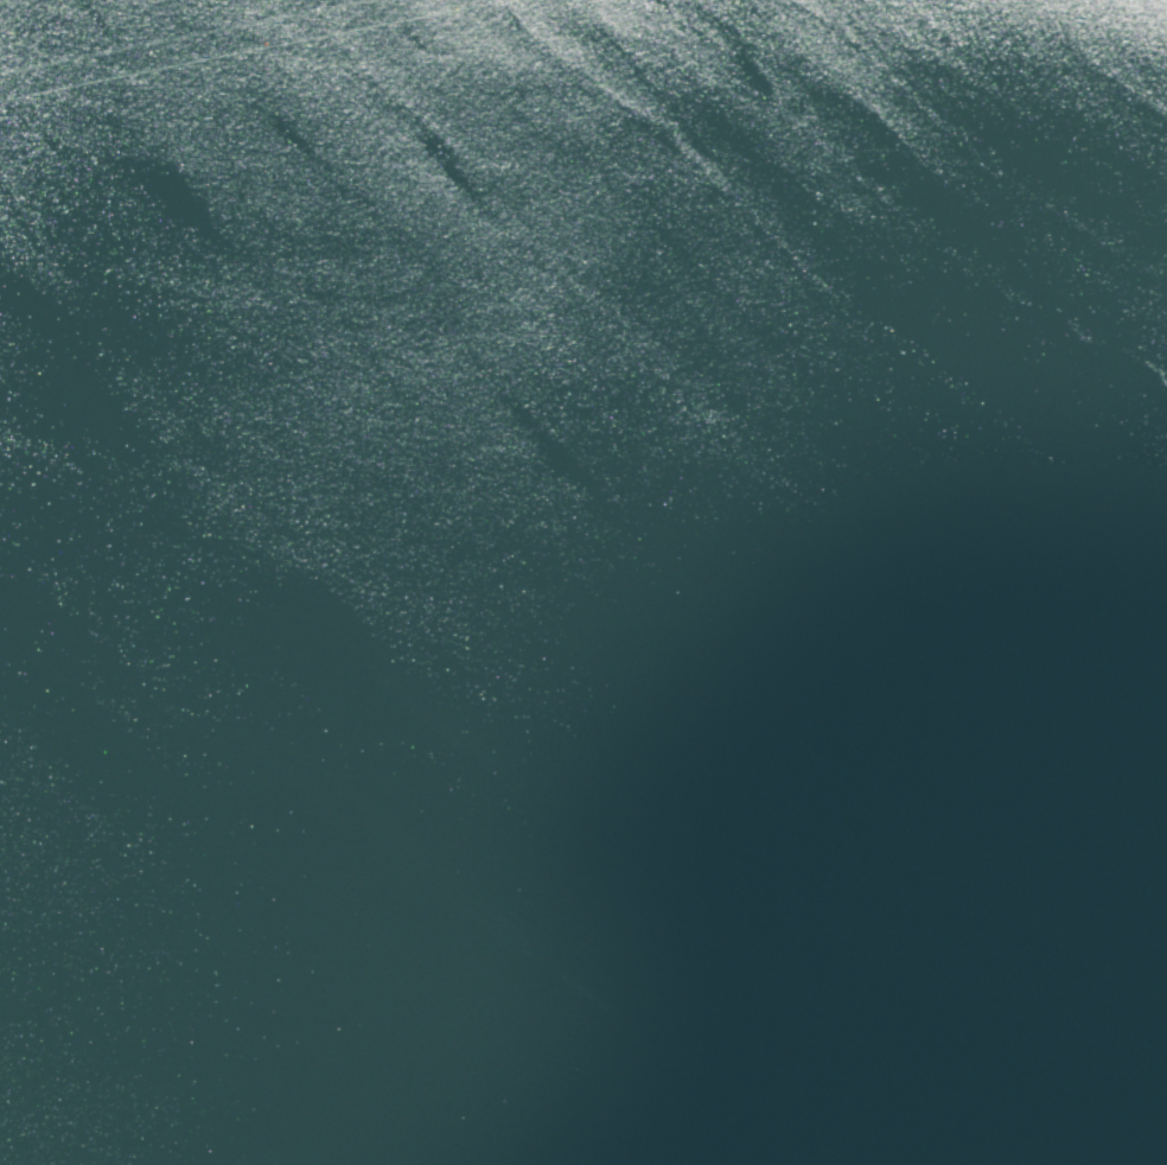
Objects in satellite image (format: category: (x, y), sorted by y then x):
river: (657, 591)

